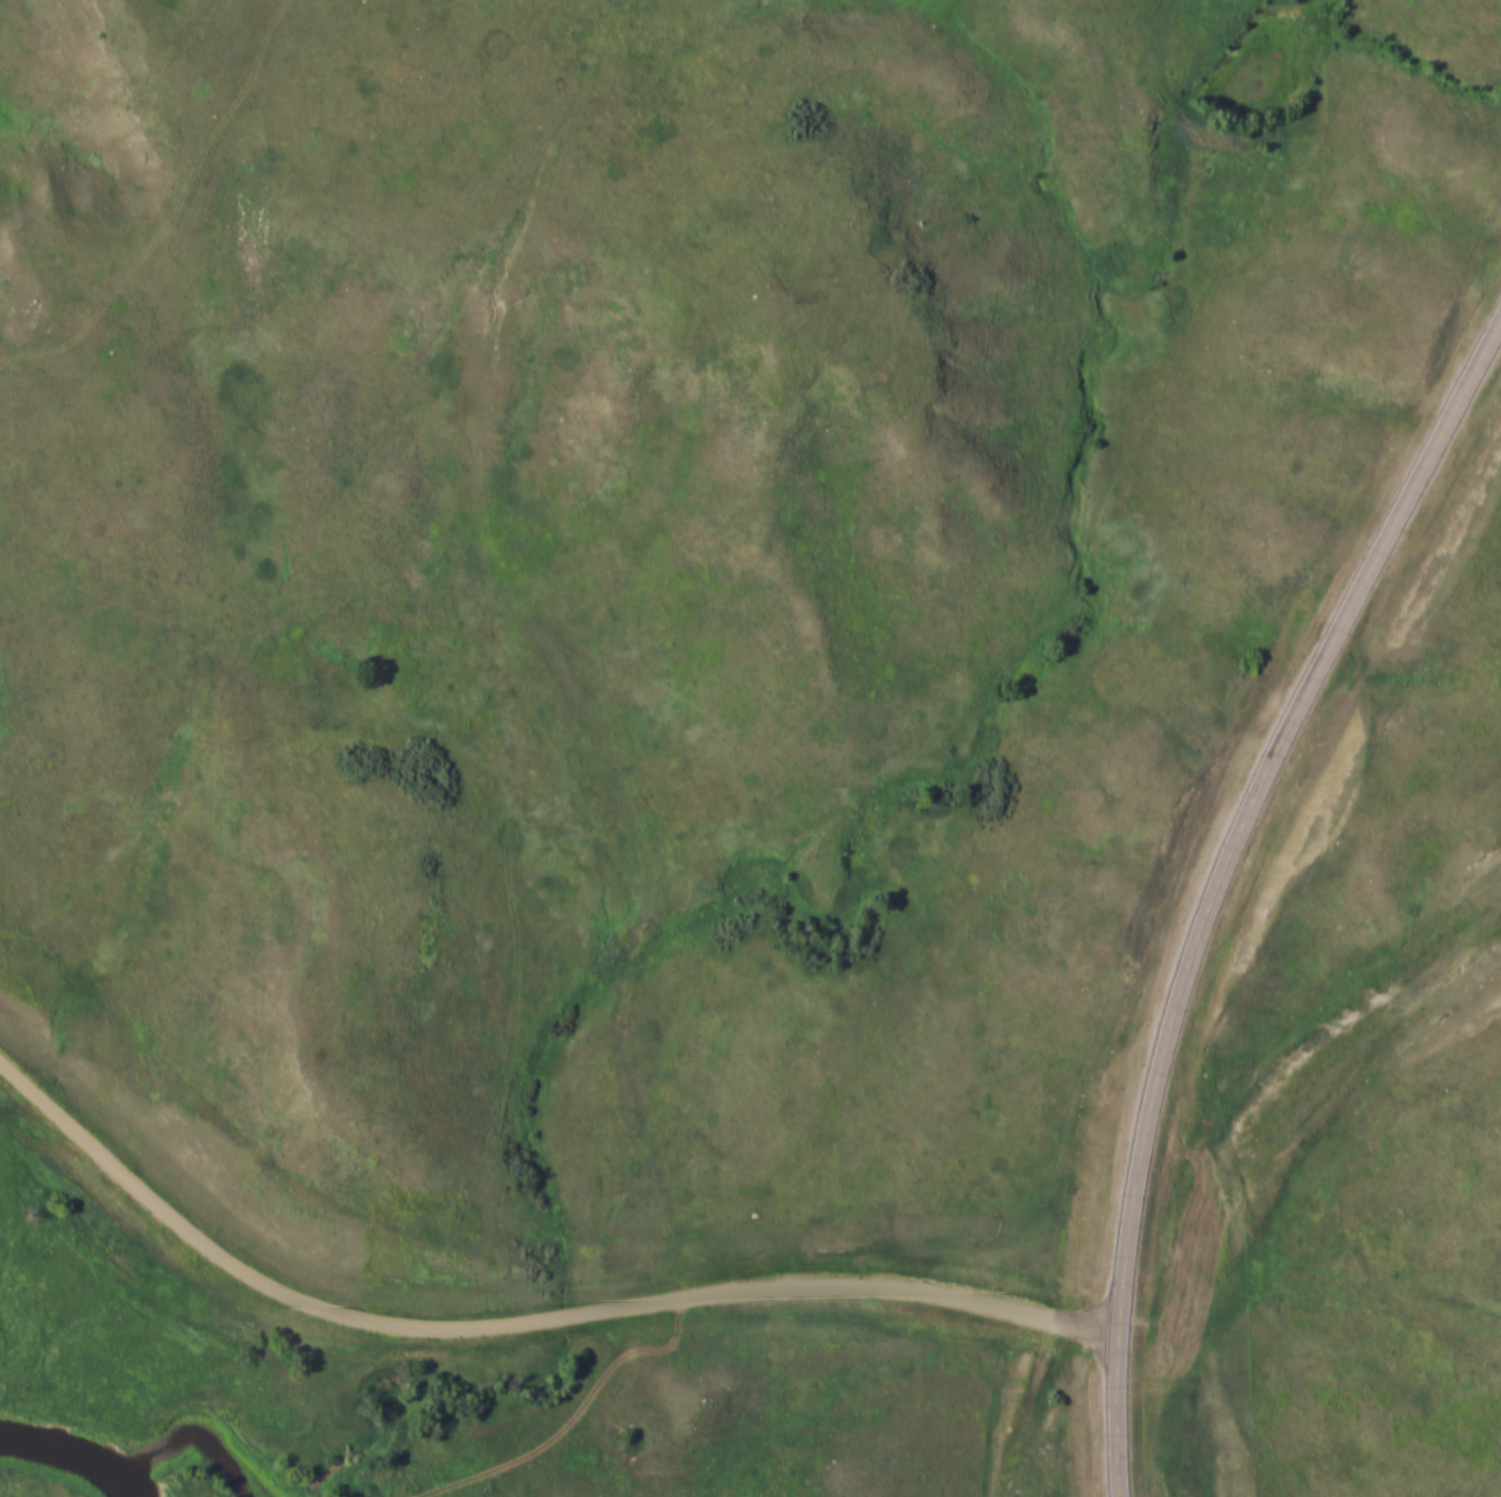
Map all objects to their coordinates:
road: (1217, 881)
road: (520, 1320)
river: (69, 1454)

